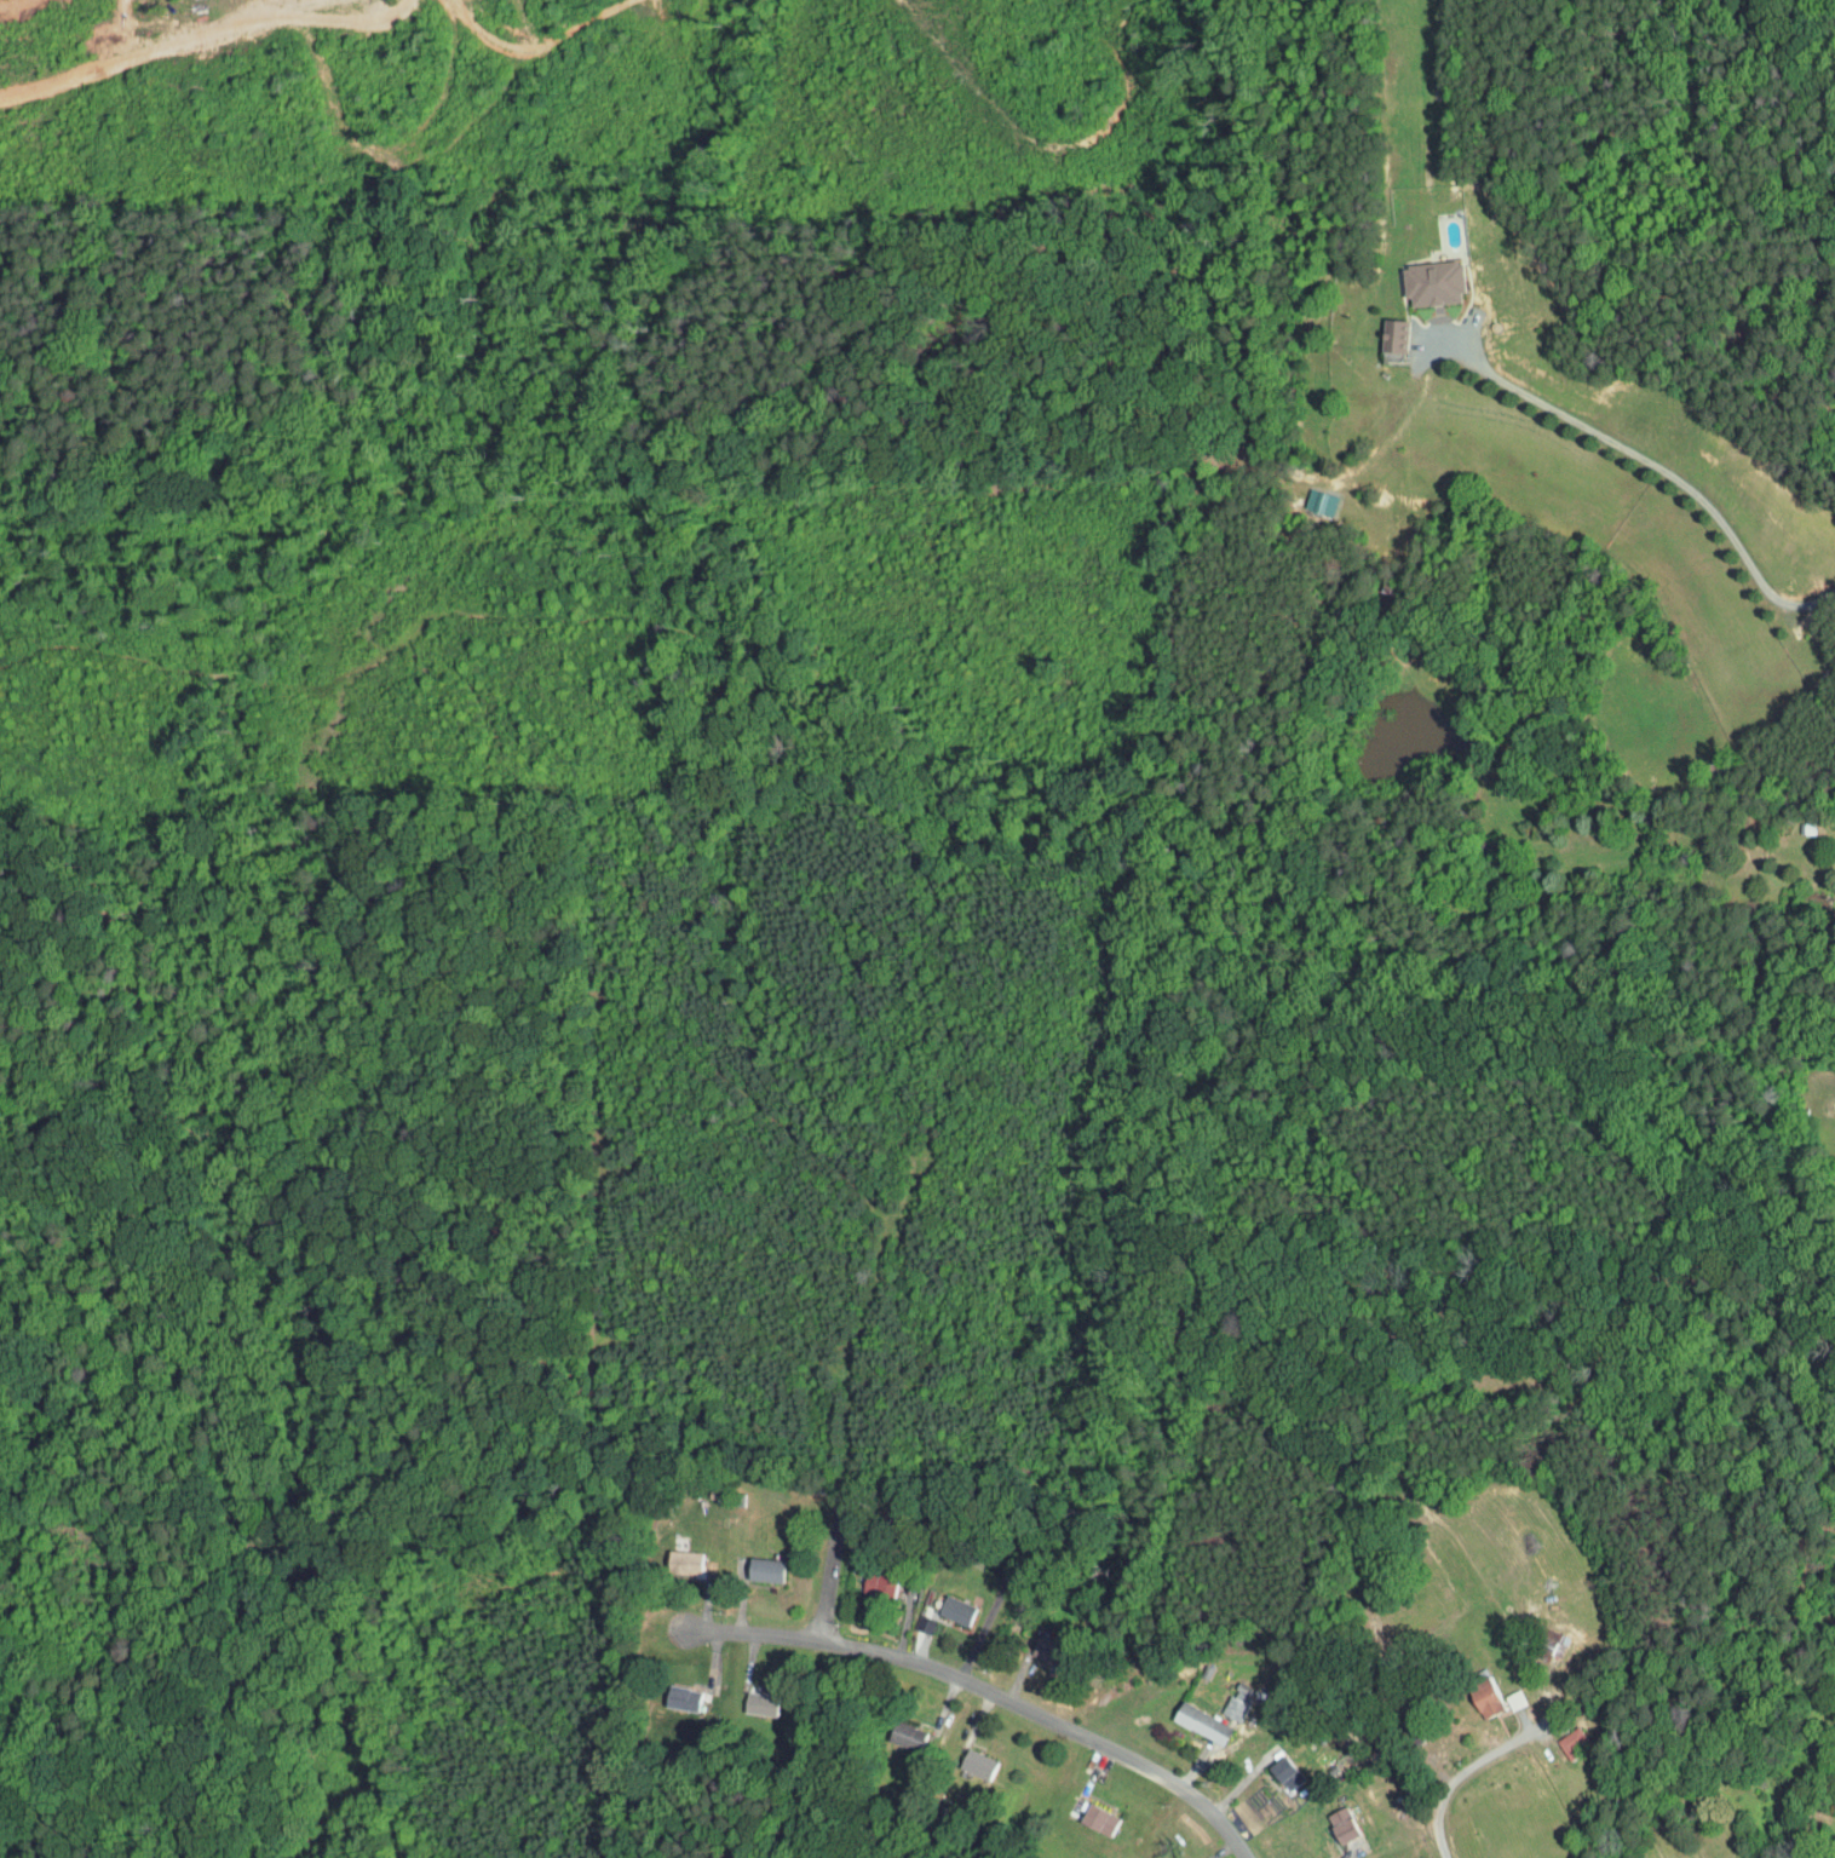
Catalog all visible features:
building: (1415, 276)
road: (1670, 474)
building: (1830, 1120)
building: (667, 1555)
building: (747, 1564)
road: (828, 1578)
building: (861, 1578)
building: (940, 1604)
building: (908, 1617)
road: (984, 1630)
building: (1028, 1638)
building: (1532, 1638)
building: (1468, 1691)
building: (666, 1692)
road: (991, 1692)
building: (744, 1698)
building: (1221, 1698)
building: (1185, 1716)
building: (891, 1730)
building: (1558, 1737)
building: (961, 1759)
building: (1269, 1767)
road: (1457, 1783)
building: (1082, 1814)
building: (1325, 1819)
road: (1358, 1852)

